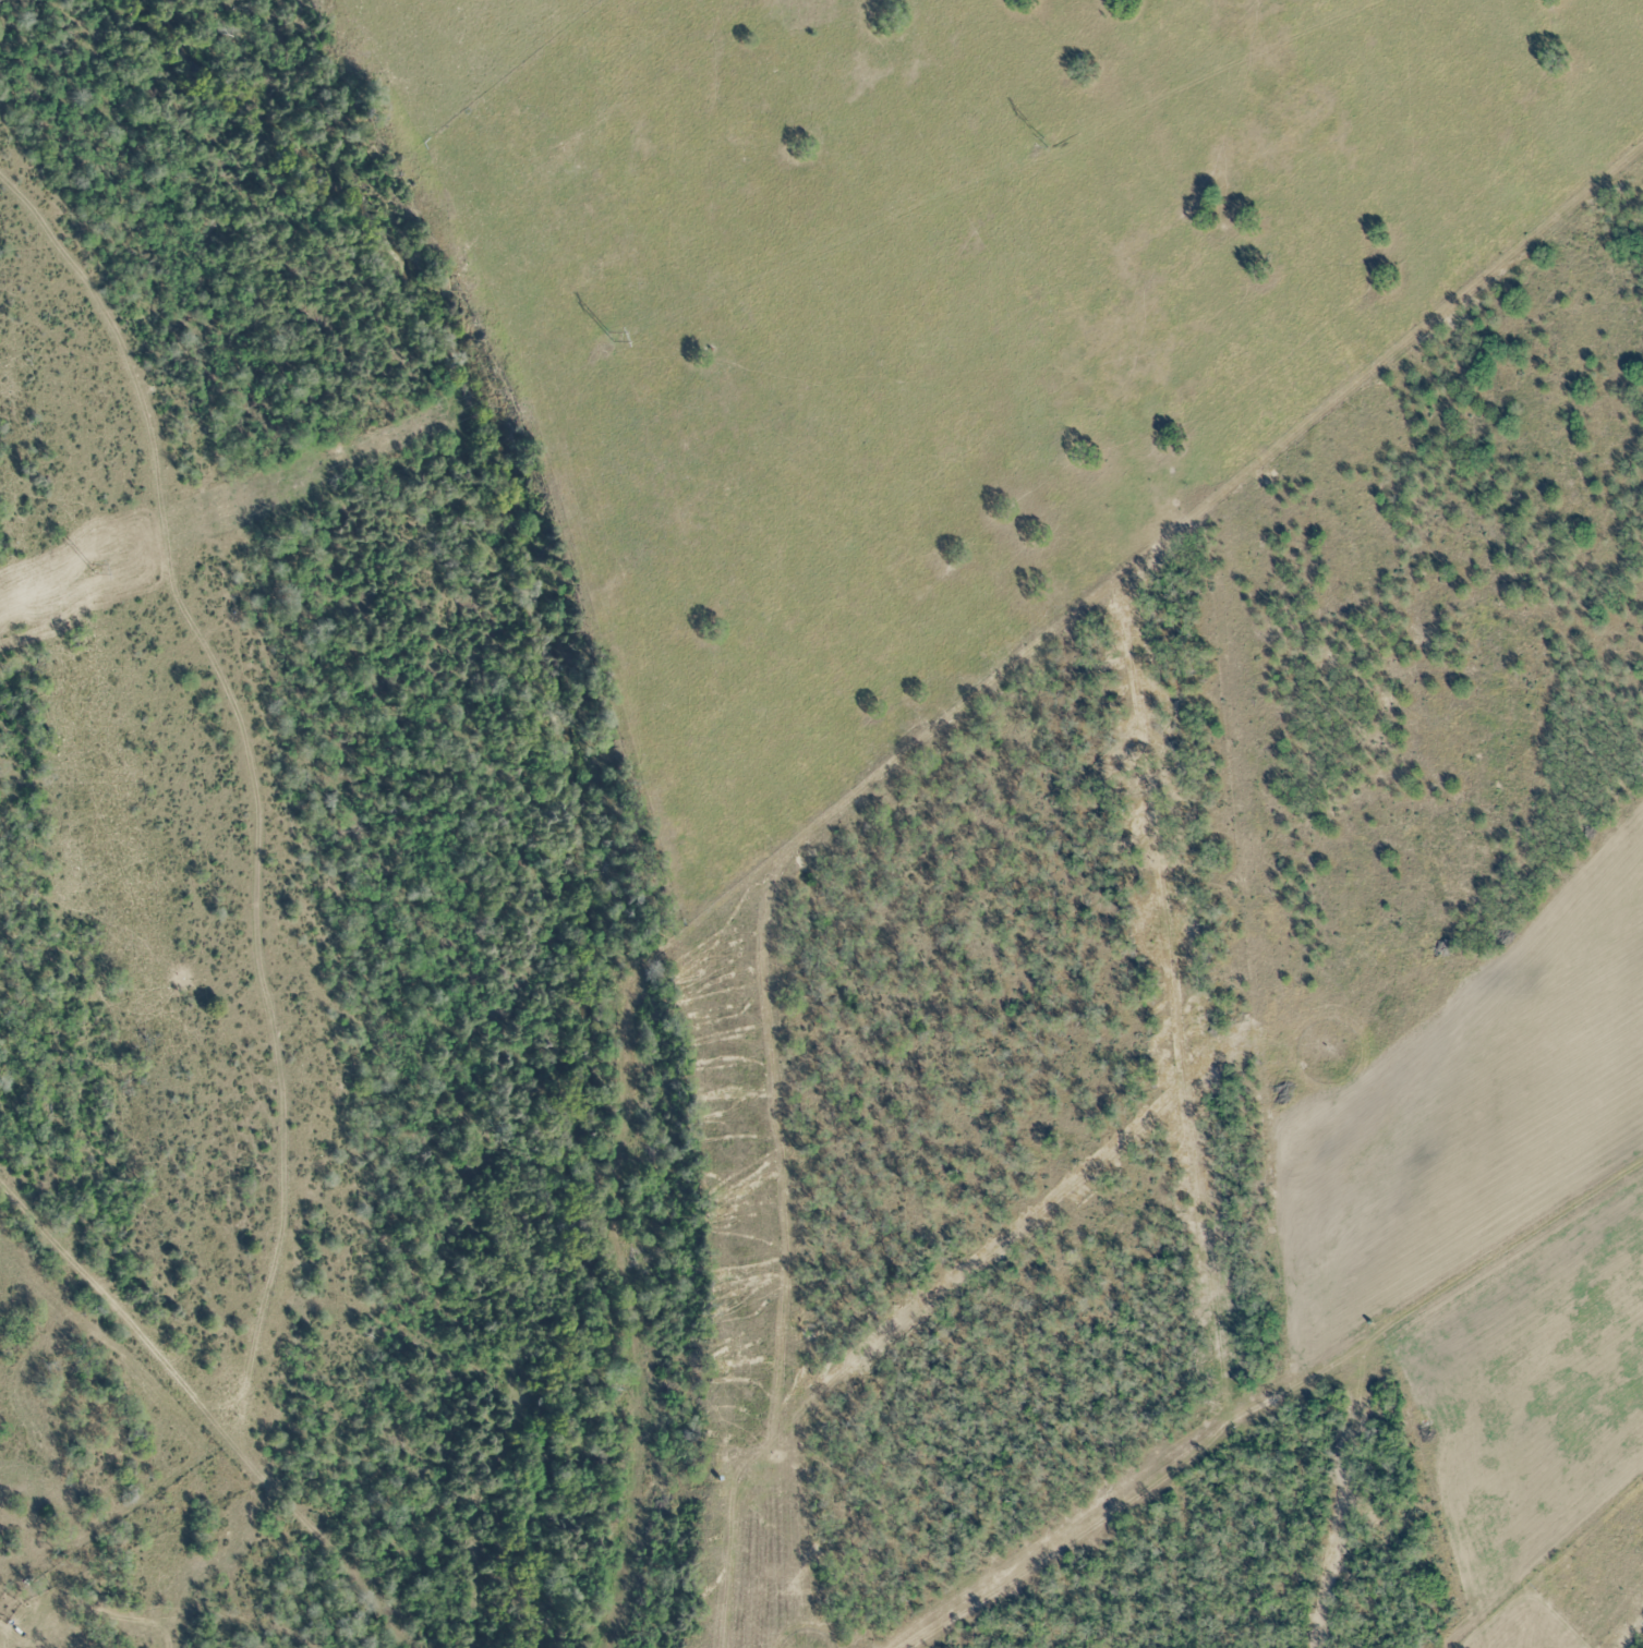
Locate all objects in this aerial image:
power tower: (1042, 142)
power tower: (609, 336)
power tower: (92, 569)
river: (559, 754)

